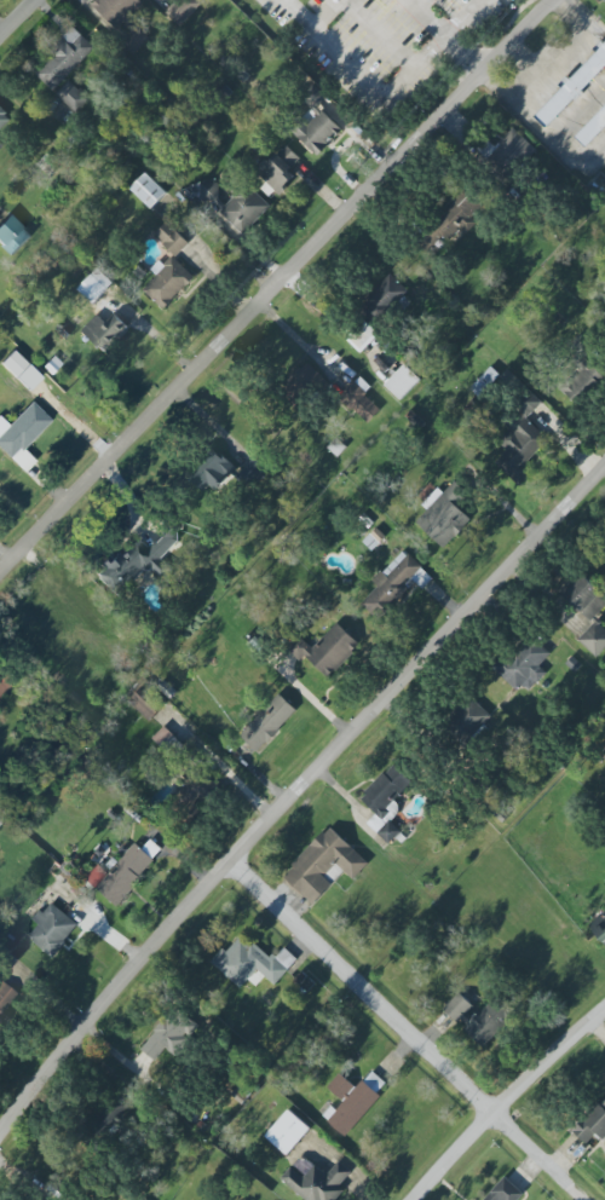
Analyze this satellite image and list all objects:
road: (409, 2)
building: (184, 11)
road: (296, 13)
road: (426, 19)
road: (21, 21)
building: (121, 22)
road: (445, 39)
building: (63, 59)
building: (227, 65)
road: (554, 67)
road: (364, 79)
building: (572, 88)
building: (73, 97)
road: (25, 109)
building: (4, 120)
building: (315, 122)
building: (593, 132)
building: (0, 146)
road: (341, 148)
building: (507, 154)
building: (281, 169)
building: (149, 191)
building: (459, 217)
building: (12, 235)
building: (172, 240)
building: (168, 282)
building: (96, 287)
road: (280, 290)
building: (384, 301)
building: (105, 331)
building: (362, 336)
building: (582, 373)
building: (403, 382)
building: (485, 382)
building: (302, 386)
building: (361, 400)
building: (22, 434)
building: (520, 440)
building: (208, 471)
building: (255, 471)
building: (444, 515)
building: (139, 560)
building: (394, 584)
building: (586, 599)
building: (594, 639)
building: (325, 650)
building: (524, 665)
building: (2, 687)
building: (468, 719)
building: (269, 723)
building: (168, 743)
building: (195, 791)
road: (295, 798)
building: (386, 802)
building: (0, 821)
building: (323, 865)
building: (123, 871)
building: (52, 929)
building: (600, 933)
building: (252, 962)
building: (479, 1019)
road: (417, 1029)
building: (168, 1035)
building: (375, 1083)
road: (511, 1106)
building: (351, 1107)
building: (592, 1125)
building: (288, 1132)
building: (318, 1183)
building: (505, 1192)

